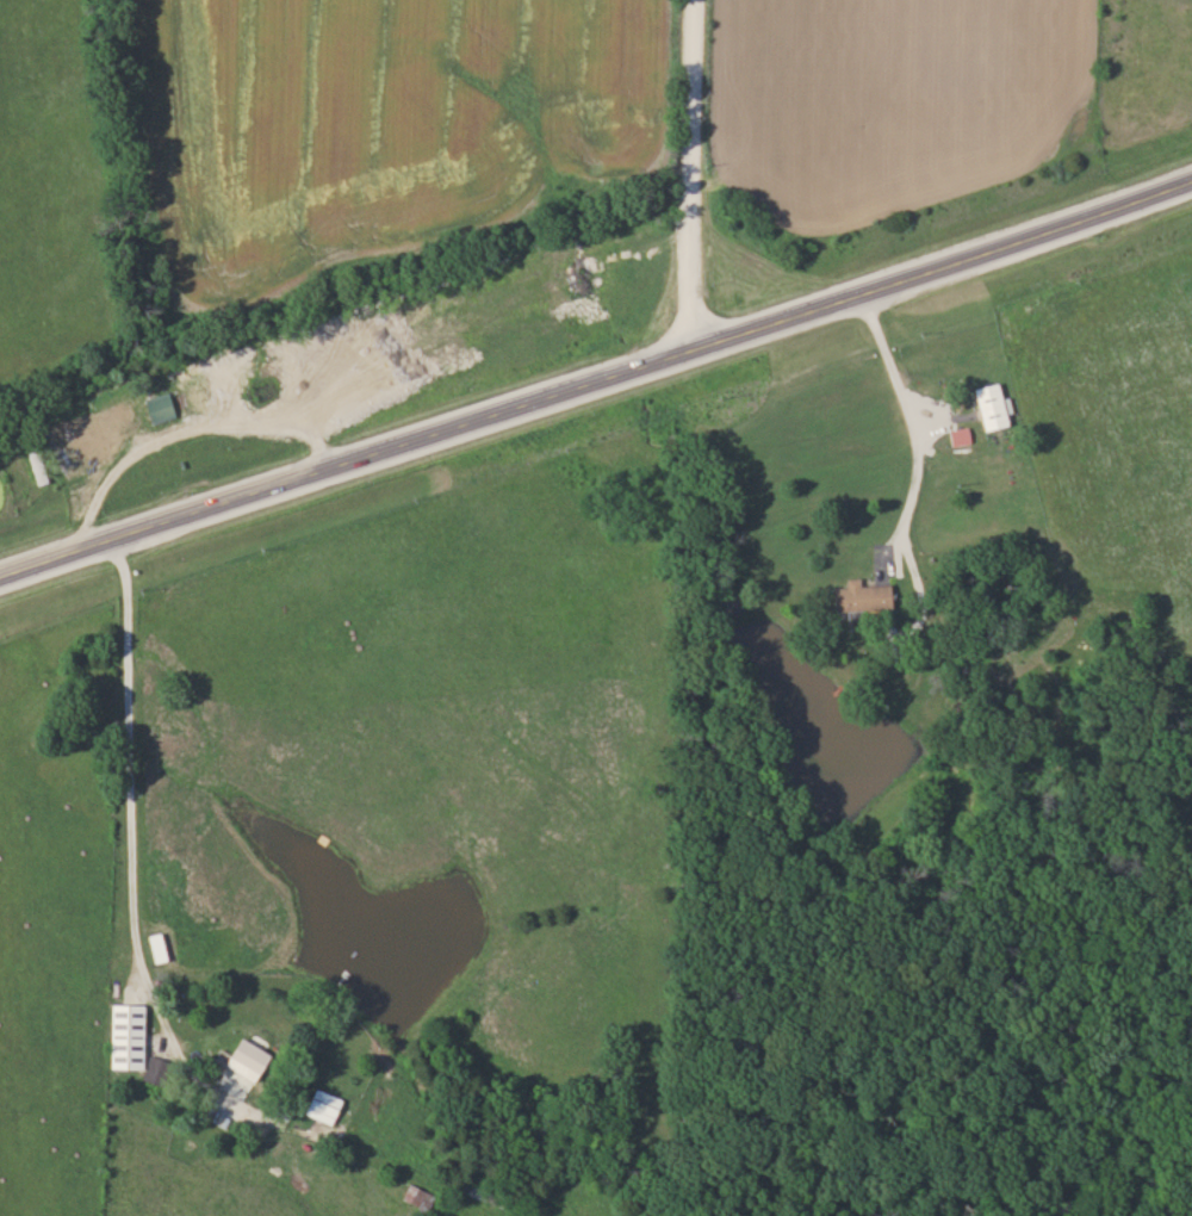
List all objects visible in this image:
road: (697, 174)
road: (595, 381)
building: (162, 407)
building: (985, 407)
road: (900, 409)
building: (955, 436)
building: (12, 485)
building: (858, 598)
road: (119, 756)
building: (241, 1061)
building: (409, 1201)

